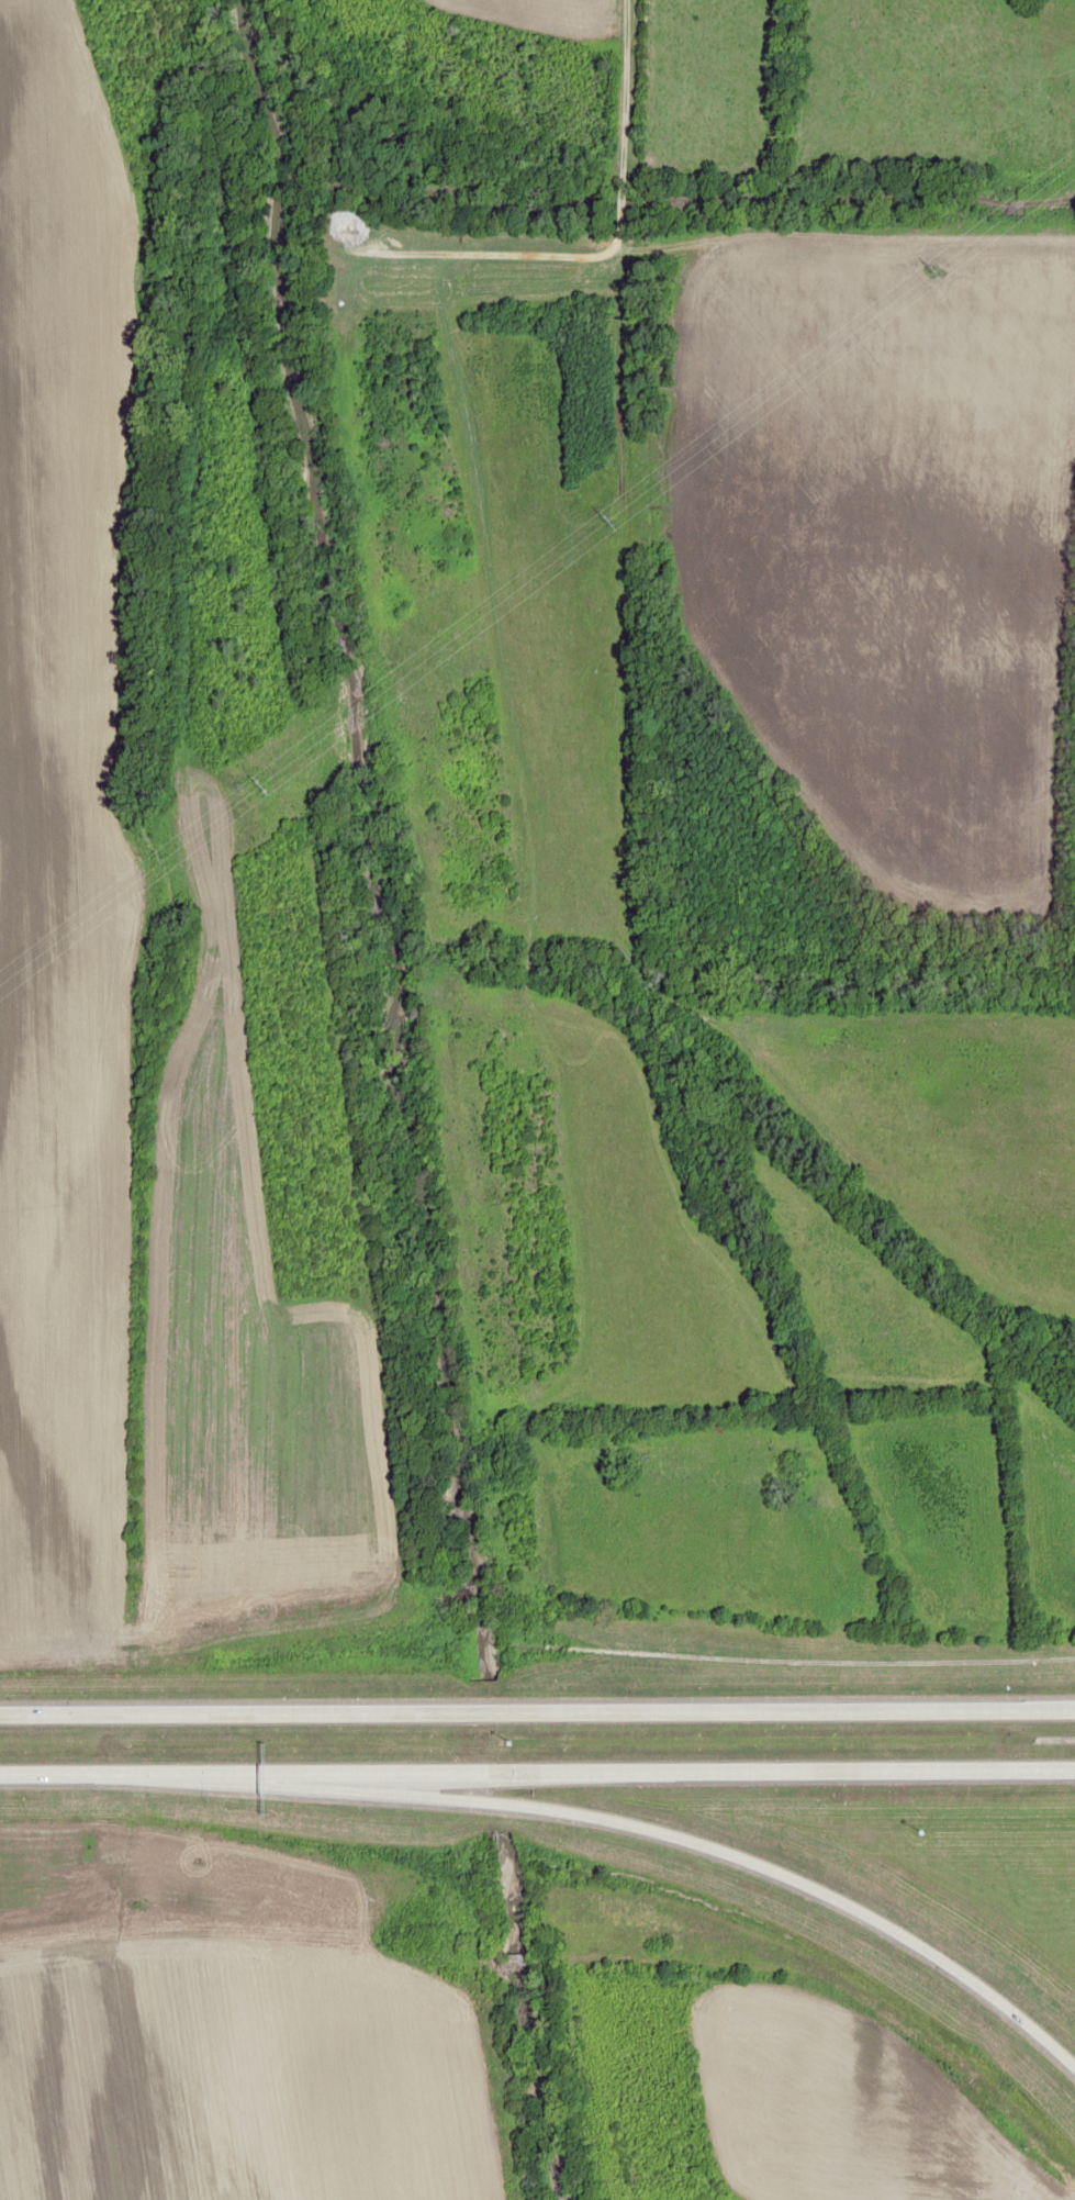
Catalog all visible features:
road: (665, 146)
road: (243, 332)
road: (537, 1712)
road: (537, 1769)
road: (672, 1839)
road: (244, 1927)
road: (503, 2073)

